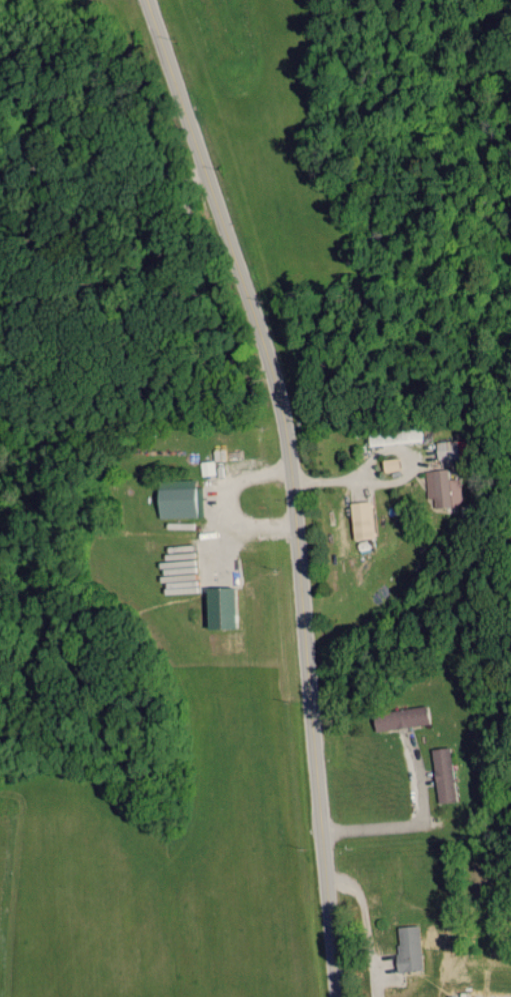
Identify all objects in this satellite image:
building: (447, 449)
building: (206, 466)
building: (440, 485)
road: (290, 487)
building: (177, 497)
building: (359, 519)
building: (217, 606)
building: (398, 717)
building: (441, 773)
building: (406, 947)

